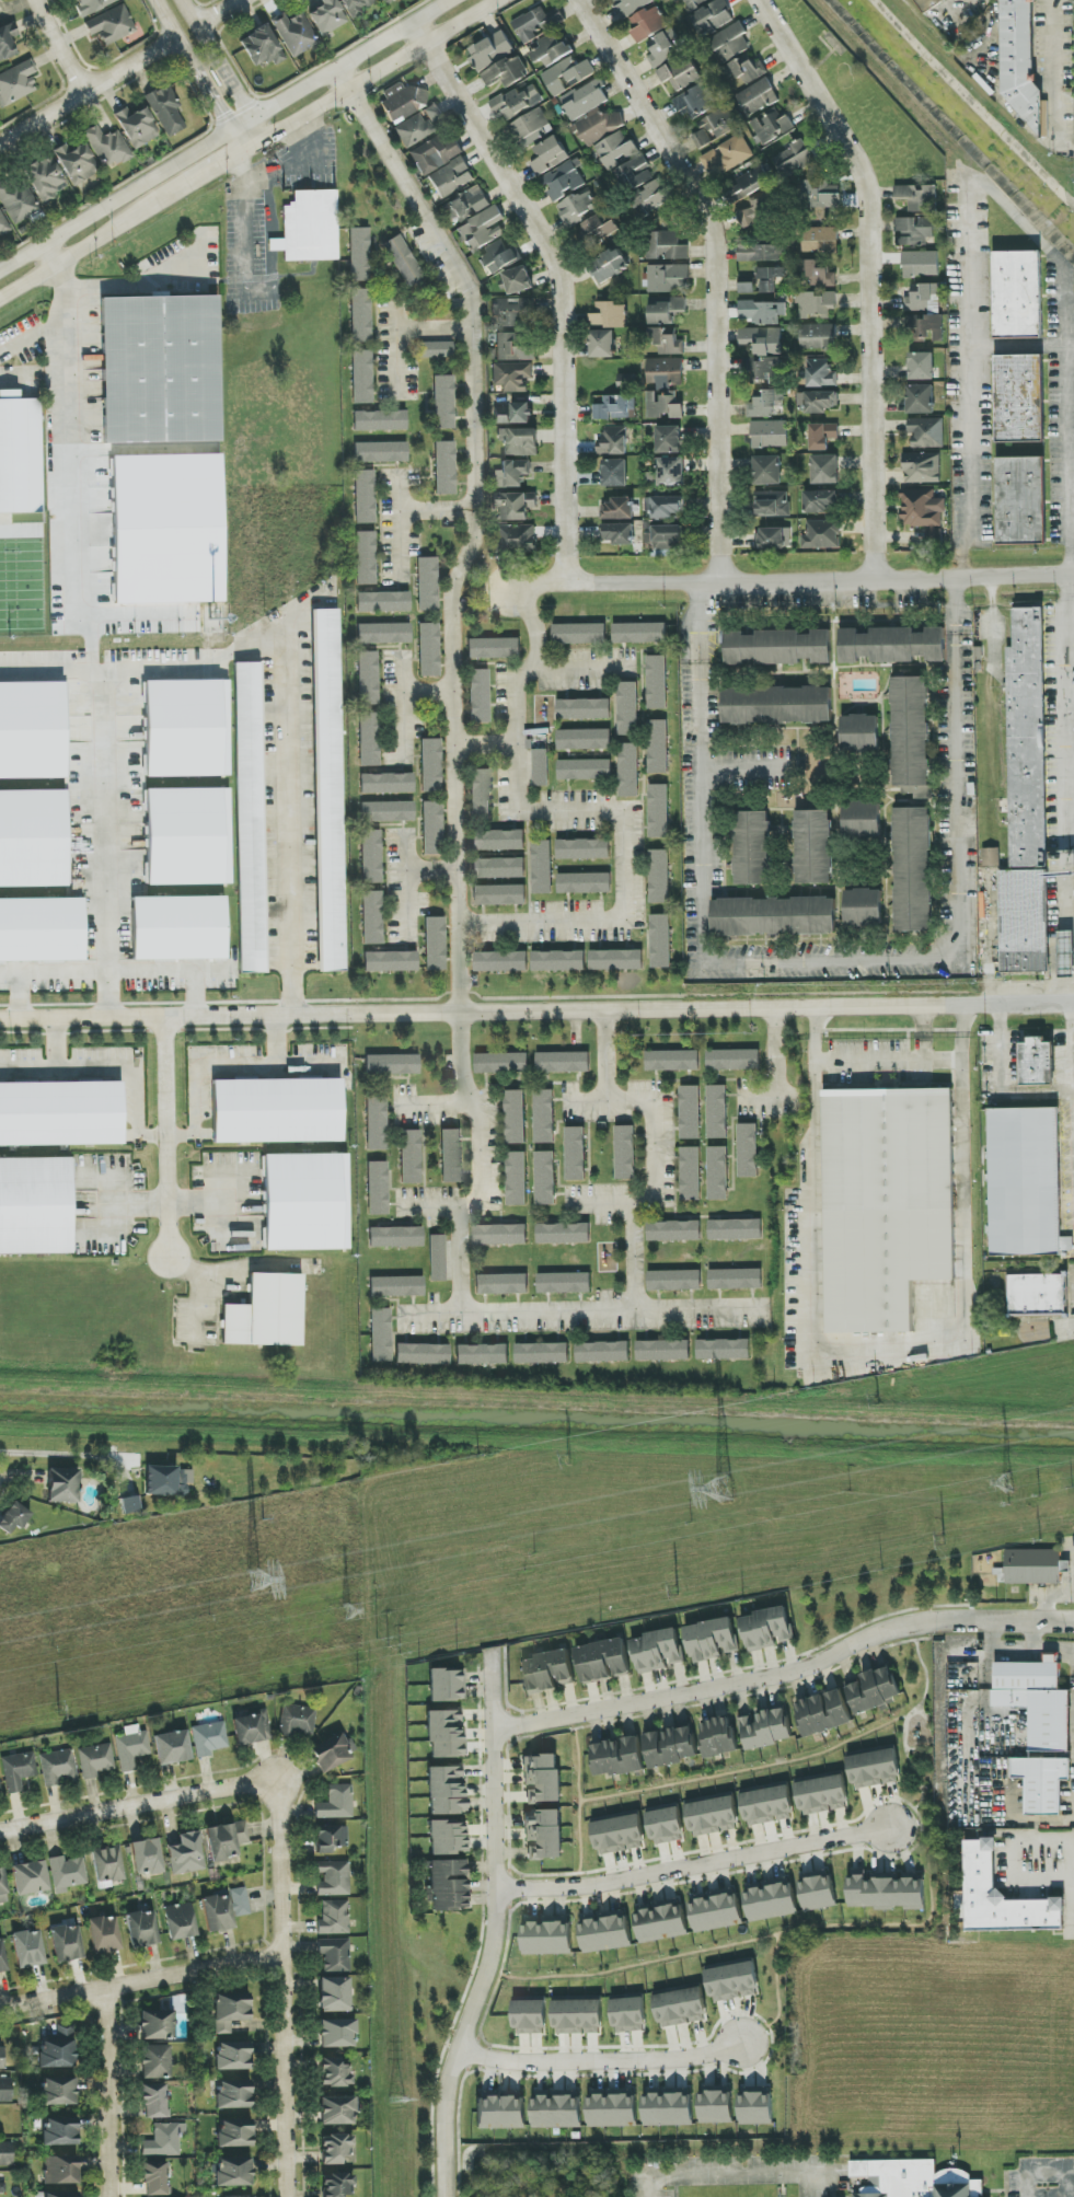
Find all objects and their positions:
building: (0, 0)
building: (385, 2)
building: (694, 2)
building: (927, 4)
building: (92, 5)
building: (356, 5)
building: (631, 5)
road: (217, 12)
building: (326, 16)
road: (163, 18)
building: (713, 18)
building: (647, 24)
building: (111, 25)
building: (295, 34)
building: (542, 35)
building: (7, 41)
building: (730, 43)
road: (57, 46)
building: (261, 47)
building: (662, 48)
building: (490, 50)
building: (1020, 63)
road: (340, 66)
road: (222, 69)
road: (383, 69)
building: (747, 70)
building: (506, 72)
building: (680, 72)
road: (1054, 73)
building: (567, 76)
road: (200, 82)
road: (988, 82)
building: (16, 83)
road: (86, 89)
building: (758, 97)
building: (585, 100)
building: (516, 102)
building: (402, 103)
building: (695, 103)
building: (165, 111)
building: (419, 125)
building: (601, 126)
building: (136, 127)
building: (528, 127)
building: (714, 127)
building: (771, 127)
road: (233, 140)
road: (253, 144)
building: (106, 147)
building: (616, 150)
building: (436, 154)
building: (547, 155)
building: (728, 155)
building: (794, 159)
building: (76, 163)
road: (279, 170)
road: (208, 172)
building: (634, 174)
building: (451, 177)
building: (45, 178)
building: (564, 180)
road: (258, 181)
building: (819, 196)
building: (653, 197)
building: (919, 197)
building: (18, 199)
road: (114, 203)
road: (1000, 204)
building: (465, 205)
building: (577, 208)
building: (754, 212)
road: (245, 217)
building: (3, 224)
building: (310, 227)
building: (482, 230)
building: (598, 230)
building: (914, 231)
building: (820, 240)
road: (274, 245)
road: (89, 246)
building: (666, 246)
building: (759, 253)
building: (359, 254)
road: (51, 257)
building: (499, 257)
building: (403, 261)
building: (921, 264)
building: (610, 265)
road: (714, 273)
road: (870, 274)
building: (821, 276)
building: (667, 278)
building: (769, 279)
building: (519, 280)
road: (138, 285)
road: (561, 285)
building: (747, 288)
road: (275, 291)
building: (1017, 293)
building: (923, 298)
building: (666, 310)
building: (513, 312)
building: (762, 312)
building: (360, 315)
building: (610, 316)
building: (925, 326)
road: (432, 331)
road: (33, 336)
building: (818, 336)
building: (666, 340)
building: (763, 340)
building: (602, 344)
building: (512, 348)
road: (1024, 348)
road: (394, 349)
building: (436, 350)
building: (922, 367)
building: (763, 370)
building: (161, 372)
building: (665, 372)
building: (821, 373)
road: (22, 375)
building: (511, 377)
building: (361, 378)
building: (626, 381)
building: (1019, 398)
building: (921, 400)
building: (817, 402)
building: (442, 403)
building: (766, 405)
building: (663, 406)
building: (614, 407)
building: (512, 414)
building: (379, 420)
building: (927, 432)
building: (770, 435)
building: (822, 436)
building: (669, 439)
road: (71, 440)
building: (614, 441)
building: (519, 442)
building: (380, 452)
building: (21, 455)
building: (922, 467)
building: (443, 469)
building: (825, 470)
building: (767, 471)
building: (671, 472)
building: (615, 473)
building: (510, 474)
building: (363, 497)
building: (1020, 500)
building: (821, 501)
building: (773, 505)
building: (515, 506)
building: (668, 508)
building: (922, 509)
building: (617, 510)
road: (435, 512)
road: (395, 525)
road: (474, 525)
building: (168, 529)
building: (619, 533)
building: (934, 533)
building: (822, 534)
building: (516, 537)
building: (669, 537)
building: (775, 539)
building: (365, 558)
road: (792, 580)
building: (427, 585)
park: (21, 586)
building: (383, 602)
road: (536, 624)
road: (1070, 632)
building: (639, 633)
building: (383, 634)
building: (579, 634)
building: (909, 645)
building: (853, 646)
building: (778, 647)
building: (494, 648)
building: (428, 650)
building: (368, 679)
building: (657, 682)
road: (426, 695)
building: (478, 696)
road: (1070, 697)
building: (777, 705)
building: (627, 708)
building: (584, 709)
road: (1065, 709)
road: (400, 712)
building: (187, 728)
building: (32, 730)
building: (859, 733)
building: (911, 736)
building: (369, 739)
building: (584, 739)
building: (1027, 740)
road: (483, 744)
building: (658, 747)
building: (430, 766)
building: (540, 767)
building: (585, 770)
building: (628, 770)
road: (744, 770)
building: (386, 784)
building: (328, 790)
building: (480, 795)
road: (575, 810)
building: (386, 811)
building: (659, 811)
road: (101, 814)
road: (289, 814)
building: (250, 818)
building: (861, 819)
building: (431, 829)
building: (188, 836)
building: (33, 839)
building: (498, 841)
building: (812, 847)
building: (751, 848)
building: (584, 849)
building: (371, 856)
building: (991, 857)
road: (429, 867)
building: (542, 867)
building: (498, 868)
building: (912, 869)
building: (659, 877)
building: (585, 883)
road: (403, 887)
road: (1067, 887)
building: (499, 895)
building: (863, 907)
building: (773, 916)
building: (372, 917)
building: (1024, 922)
building: (178, 928)
building: (42, 929)
road: (1065, 935)
road: (1073, 935)
building: (660, 941)
building: (434, 944)
road: (1065, 944)
building: (1066, 955)
building: (616, 960)
road: (834, 960)
road: (1065, 960)
building: (390, 961)
building: (501, 961)
building: (558, 961)
road: (1058, 963)
road: (108, 970)
road: (1070, 990)
road: (536, 1011)
road: (1072, 1022)
road: (923, 1032)
road: (277, 1040)
road: (776, 1053)
building: (734, 1060)
road: (889, 1060)
building: (672, 1061)
building: (563, 1062)
building: (501, 1063)
building: (1037, 1063)
road: (120, 1065)
road: (223, 1065)
building: (392, 1065)
road: (1000, 1086)
road: (769, 1099)
road: (585, 1101)
road: (431, 1108)
building: (277, 1111)
building: (690, 1112)
building: (717, 1112)
building: (60, 1113)
building: (544, 1117)
building: (516, 1118)
building: (377, 1123)
road: (168, 1137)
road: (654, 1144)
building: (748, 1150)
building: (625, 1153)
building: (575, 1154)
building: (450, 1156)
building: (409, 1157)
road: (480, 1166)
building: (691, 1173)
building: (717, 1173)
building: (545, 1178)
building: (517, 1179)
building: (1024, 1181)
building: (378, 1188)
road: (198, 1202)
building: (307, 1202)
road: (135, 1203)
building: (887, 1204)
building: (35, 1205)
road: (599, 1206)
road: (428, 1209)
building: (736, 1229)
building: (674, 1230)
building: (563, 1234)
building: (500, 1235)
building: (395, 1237)
building: (437, 1258)
building: (736, 1279)
building: (674, 1281)
building: (564, 1283)
building: (501, 1284)
building: (395, 1286)
building: (1037, 1295)
road: (581, 1311)
building: (266, 1313)
building: (380, 1335)
building: (724, 1350)
building: (663, 1351)
building: (602, 1352)
road: (886, 1352)
building: (542, 1353)
building: (421, 1354)
building: (482, 1354)
power tower: (877, 1399)
power tower: (568, 1458)
road: (62, 1461)
building: (63, 1485)
power tower: (1011, 1485)
power tower: (721, 1489)
building: (129, 1505)
building: (13, 1518)
power tower: (261, 1522)
building: (1033, 1566)
power tower: (255, 1577)
power tower: (677, 1593)
power tower: (345, 1615)
building: (767, 1629)
building: (712, 1640)
power tower: (388, 1646)
road: (1054, 1646)
building: (658, 1651)
road: (1011, 1656)
building: (603, 1661)
building: (548, 1672)
road: (786, 1672)
building: (446, 1686)
building: (874, 1690)
building: (1037, 1701)
power tower: (58, 1710)
building: (823, 1713)
building: (297, 1721)
building: (765, 1727)
building: (251, 1728)
building: (444, 1735)
building: (718, 1736)
building: (209, 1738)
building: (671, 1746)
building: (130, 1747)
building: (172, 1747)
building: (333, 1753)
building: (617, 1757)
building: (94, 1760)
building: (58, 1768)
building: (874, 1769)
building: (18, 1770)
building: (542, 1779)
building: (1041, 1782)
building: (446, 1791)
building: (0, 1792)
building: (822, 1794)
building: (335, 1803)
building: (767, 1805)
road: (134, 1807)
building: (713, 1816)
building: (666, 1826)
building: (543, 1834)
building: (619, 1835)
building: (330, 1838)
building: (448, 1838)
building: (226, 1840)
road: (1014, 1841)
building: (186, 1854)
building: (147, 1858)
road: (693, 1863)
building: (107, 1866)
building: (67, 1873)
building: (30, 1878)
building: (333, 1878)
road: (1072, 1881)
building: (447, 1885)
building: (2, 1886)
building: (886, 1890)
building: (818, 1892)
building: (1002, 1897)
building: (771, 1900)
building: (224, 1909)
building: (716, 1910)
building: (333, 1918)
building: (180, 1921)
building: (661, 1924)
building: (142, 1929)
road: (494, 1929)
building: (104, 1934)
building: (605, 1934)
building: (546, 1935)
building: (66, 1943)
building: (27, 1949)
building: (334, 1955)
building: (2, 1957)
building: (732, 1981)
road: (140, 1986)
road: (281, 1991)
building: (334, 1994)
building: (680, 2007)
building: (230, 2011)
building: (628, 2013)
building: (578, 2014)
building: (530, 2015)
building: (157, 2025)
building: (65, 2032)
building: (337, 2033)
building: (57, 2054)
building: (232, 2056)
building: (1, 2059)
road: (599, 2060)
building: (155, 2062)
building: (334, 2073)
building: (5, 2090)
building: (58, 2091)
building: (232, 2094)
road: (106, 2095)
building: (154, 2101)
power tower: (394, 2103)
building: (716, 2106)
building: (755, 2106)
building: (612, 2108)
building: (668, 2108)
building: (556, 2109)
building: (336, 2111)
building: (500, 2111)
building: (59, 2131)
building: (234, 2134)
building: (164, 2140)
building: (334, 2149)
building: (5, 2154)
building: (60, 2170)
building: (233, 2172)
road: (1047, 2173)
road: (730, 2174)
building: (154, 2178)
building: (913, 2179)
building: (336, 2185)
building: (61, 2194)
building: (38, 2195)
building: (250, 2196)

